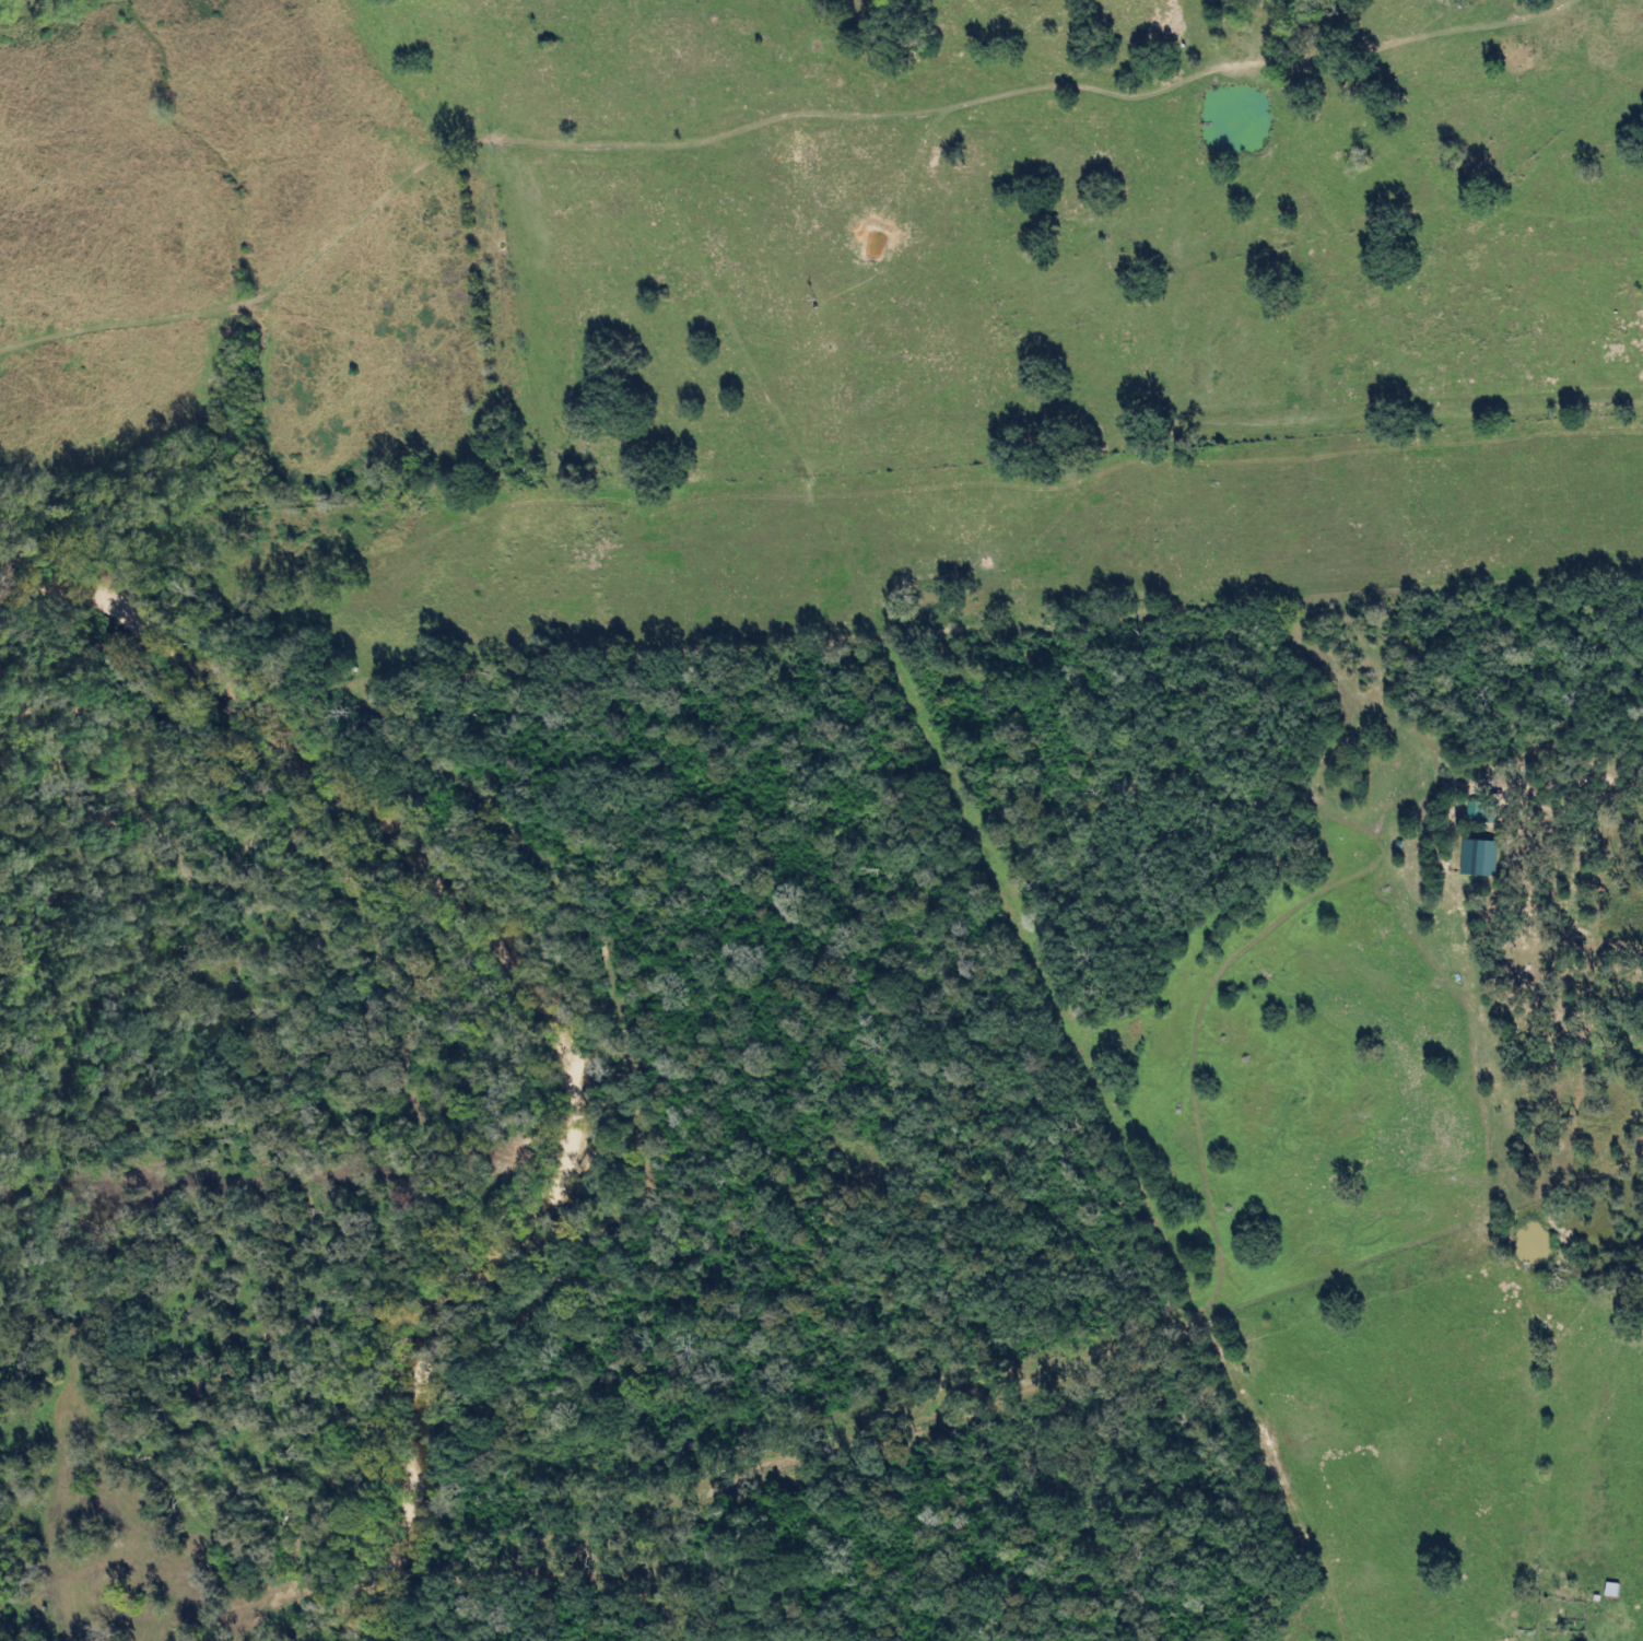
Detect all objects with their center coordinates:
building: (1607, 1590)

